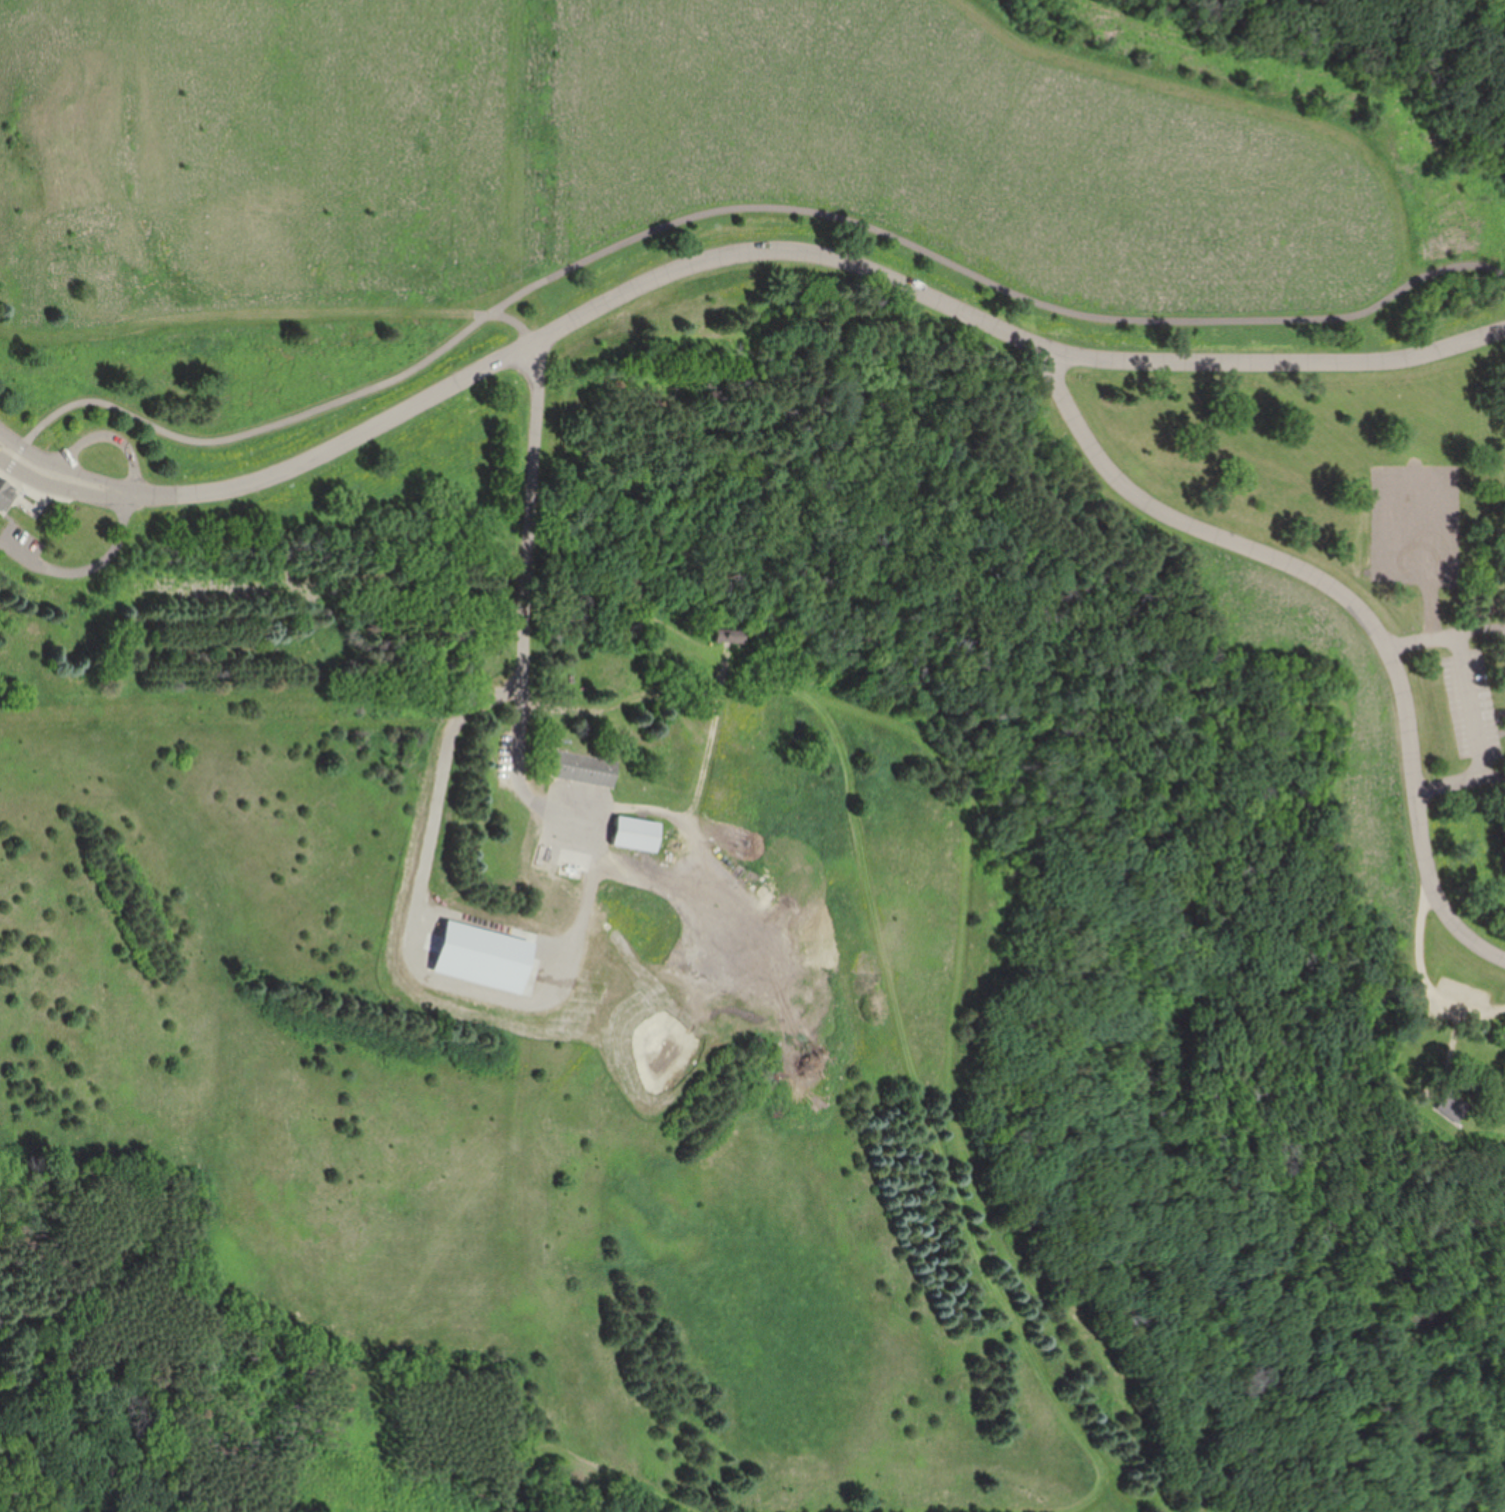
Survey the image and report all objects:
road: (1011, 331)
road: (107, 436)
road: (276, 472)
building: (5, 492)
road: (85, 570)
road: (1353, 602)
road: (524, 605)
road: (1482, 636)
building: (730, 637)
road: (1473, 697)
parking lot: (1471, 701)
park: (752, 756)
building: (584, 770)
building: (636, 835)
road: (1429, 976)

